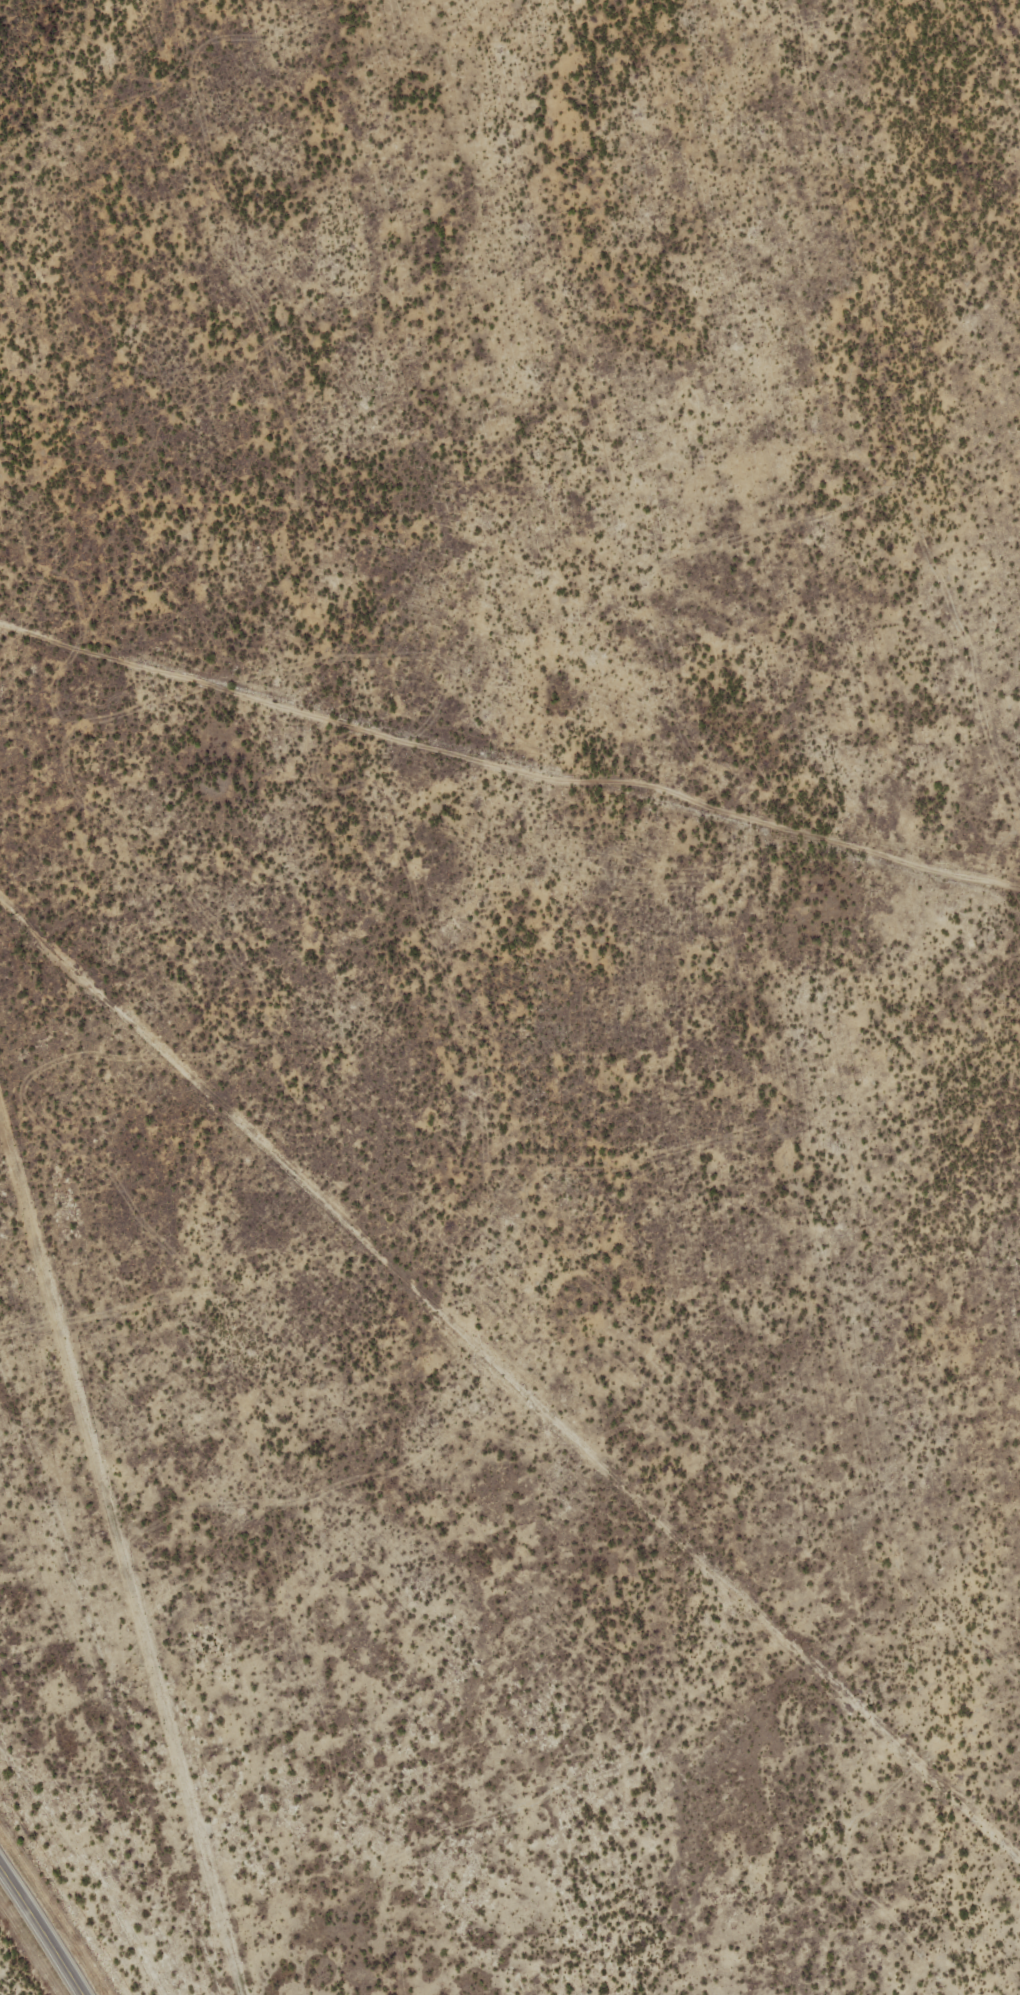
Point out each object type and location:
road: (40, 1935)

